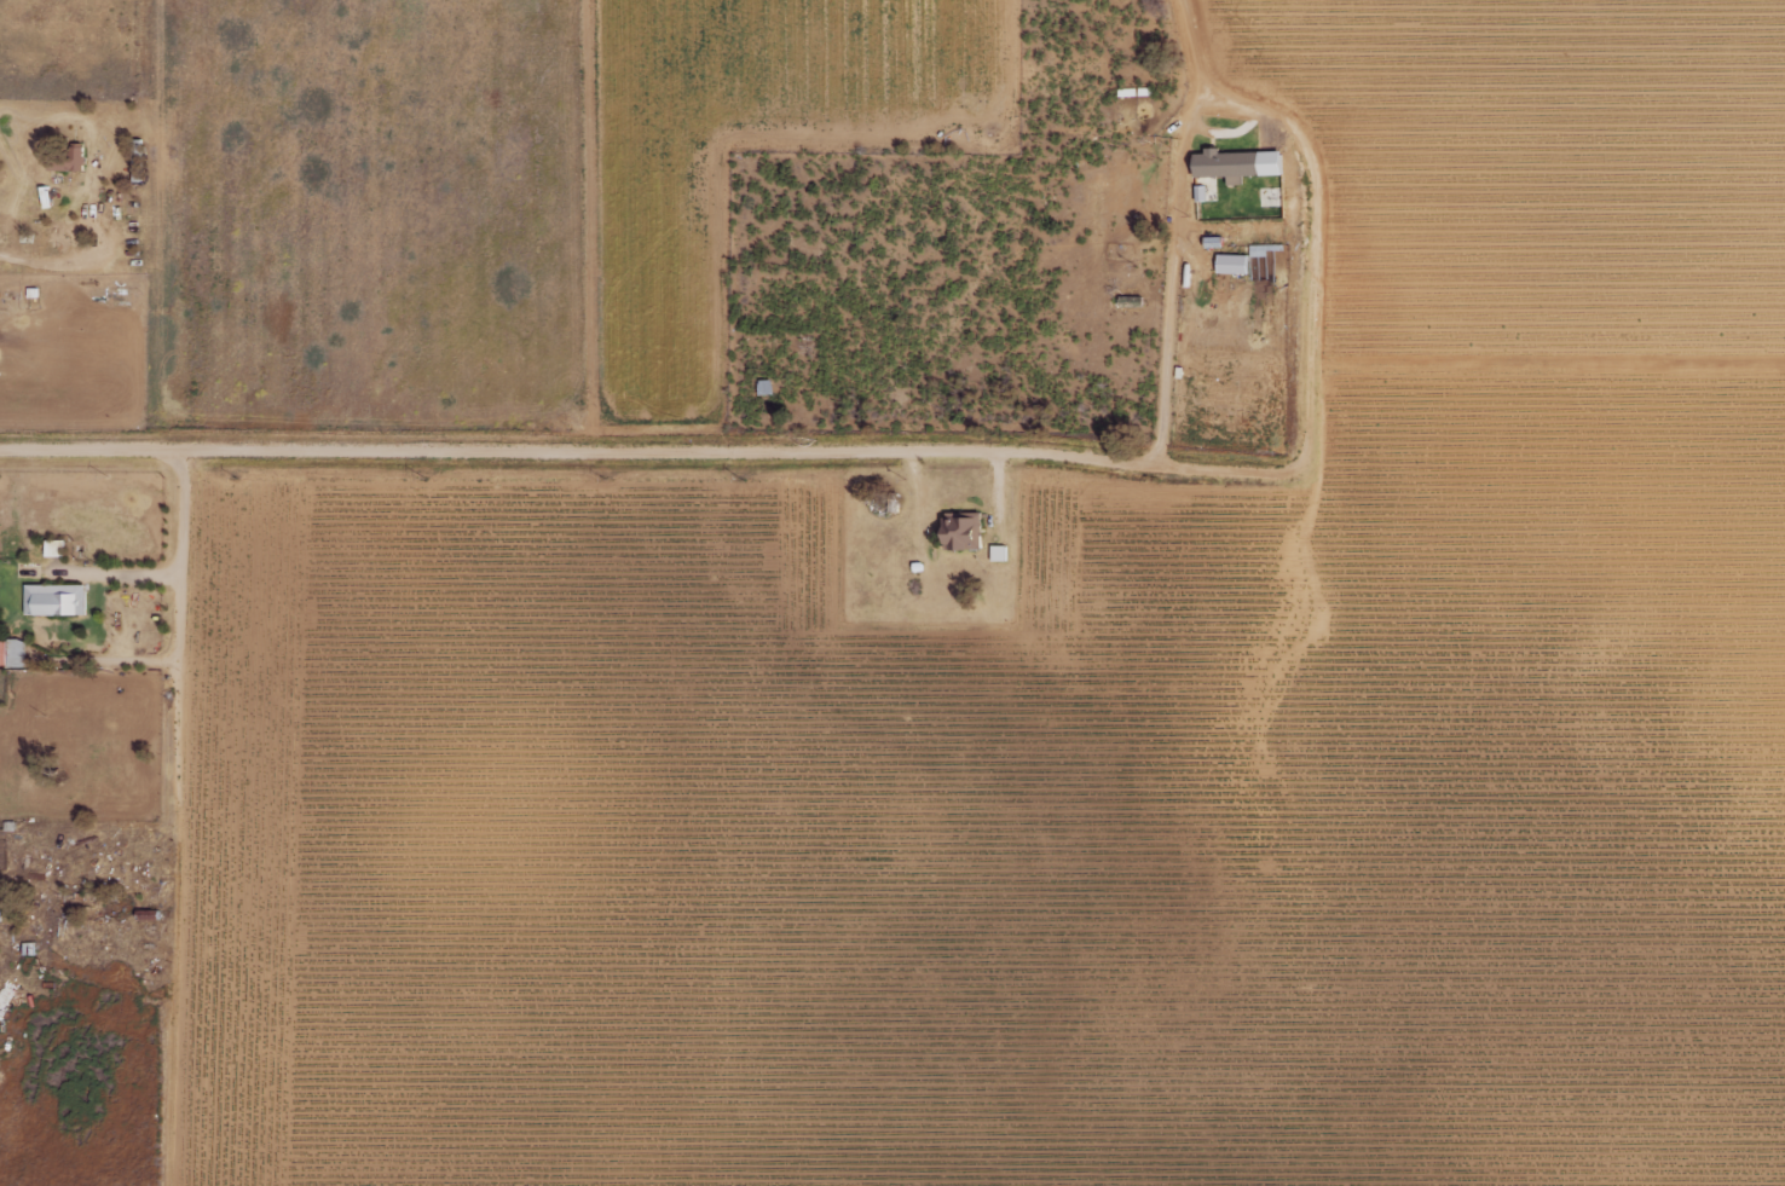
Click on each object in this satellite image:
building: (67, 161)
building: (1234, 164)
road: (1175, 226)
building: (1230, 264)
road: (669, 450)
building: (959, 532)
building: (52, 548)
building: (995, 552)
building: (52, 600)
road: (181, 629)
building: (11, 653)

